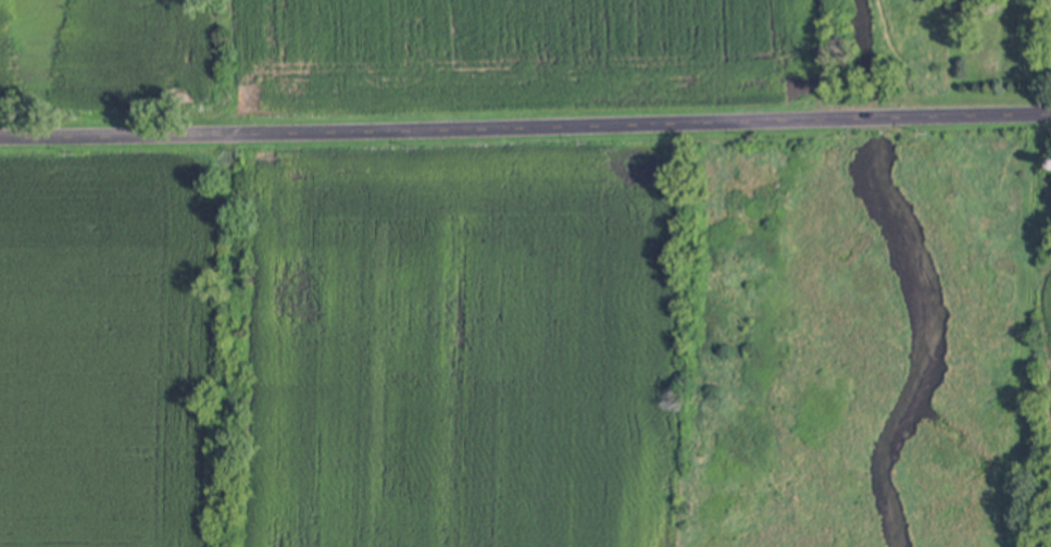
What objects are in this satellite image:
road: (967, 116)
road: (874, 117)
road: (431, 123)

